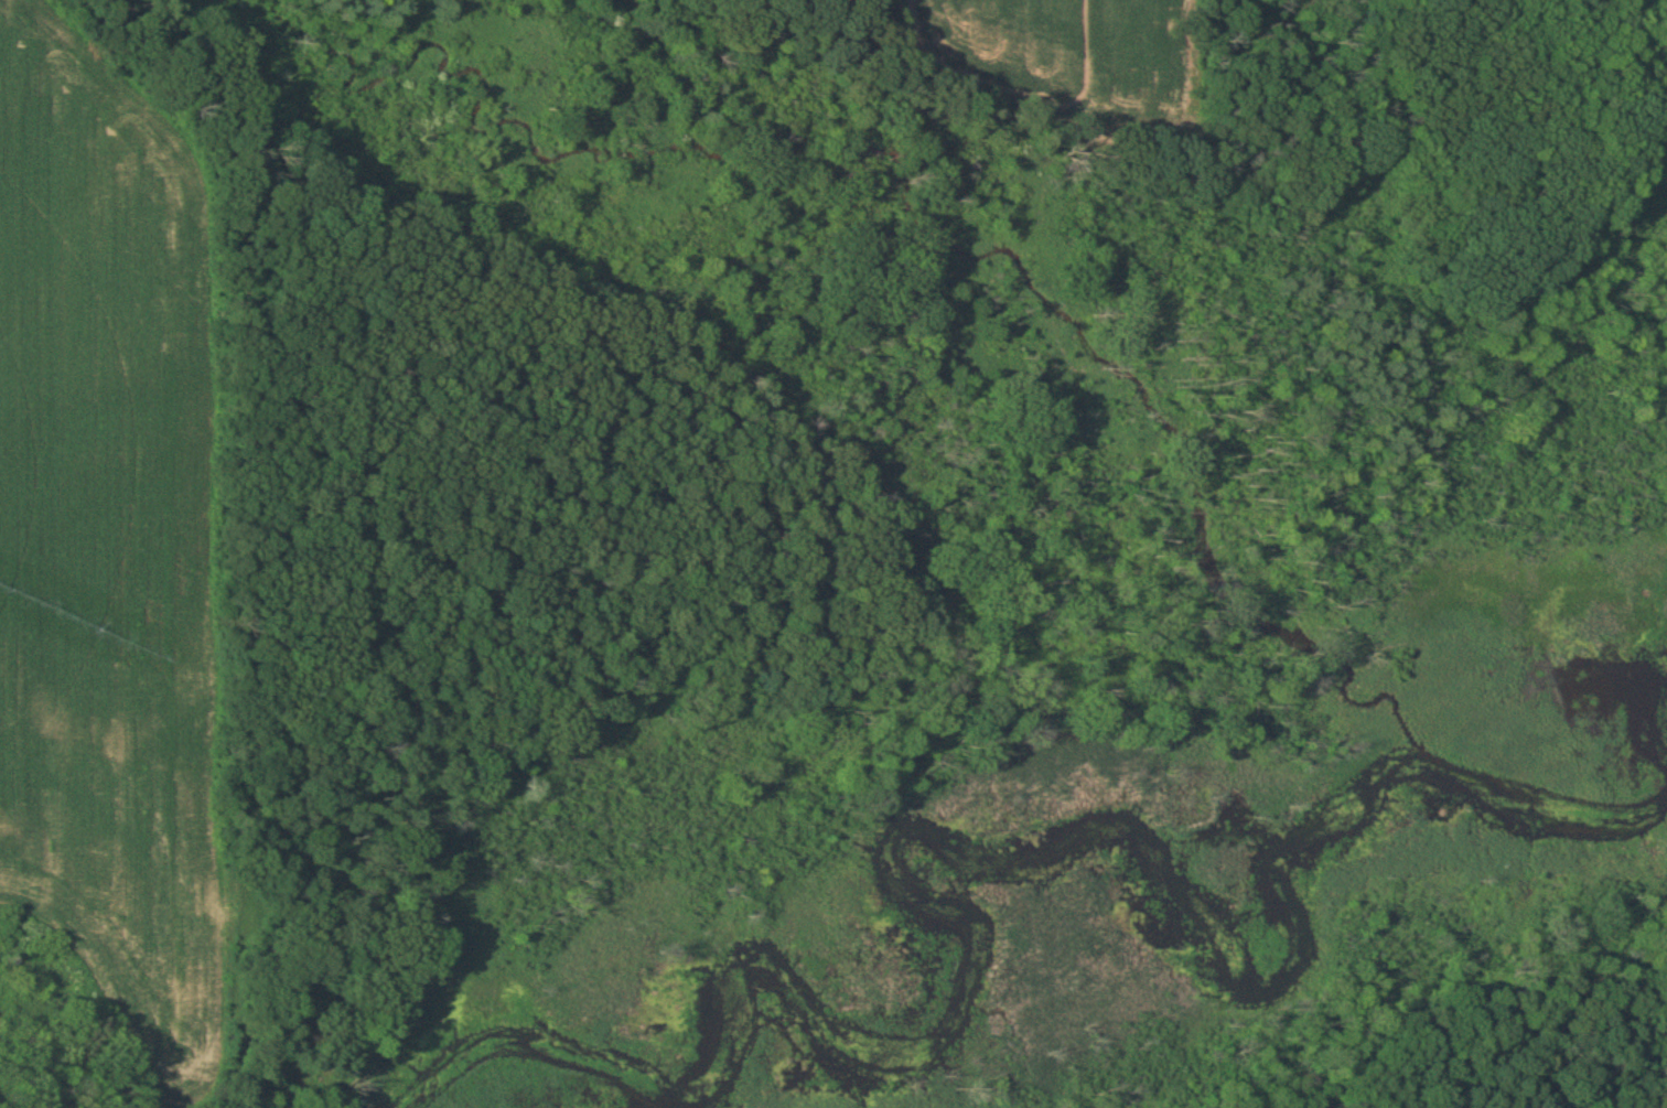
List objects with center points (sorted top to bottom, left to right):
river: (911, 821)
building: (292, 1009)

